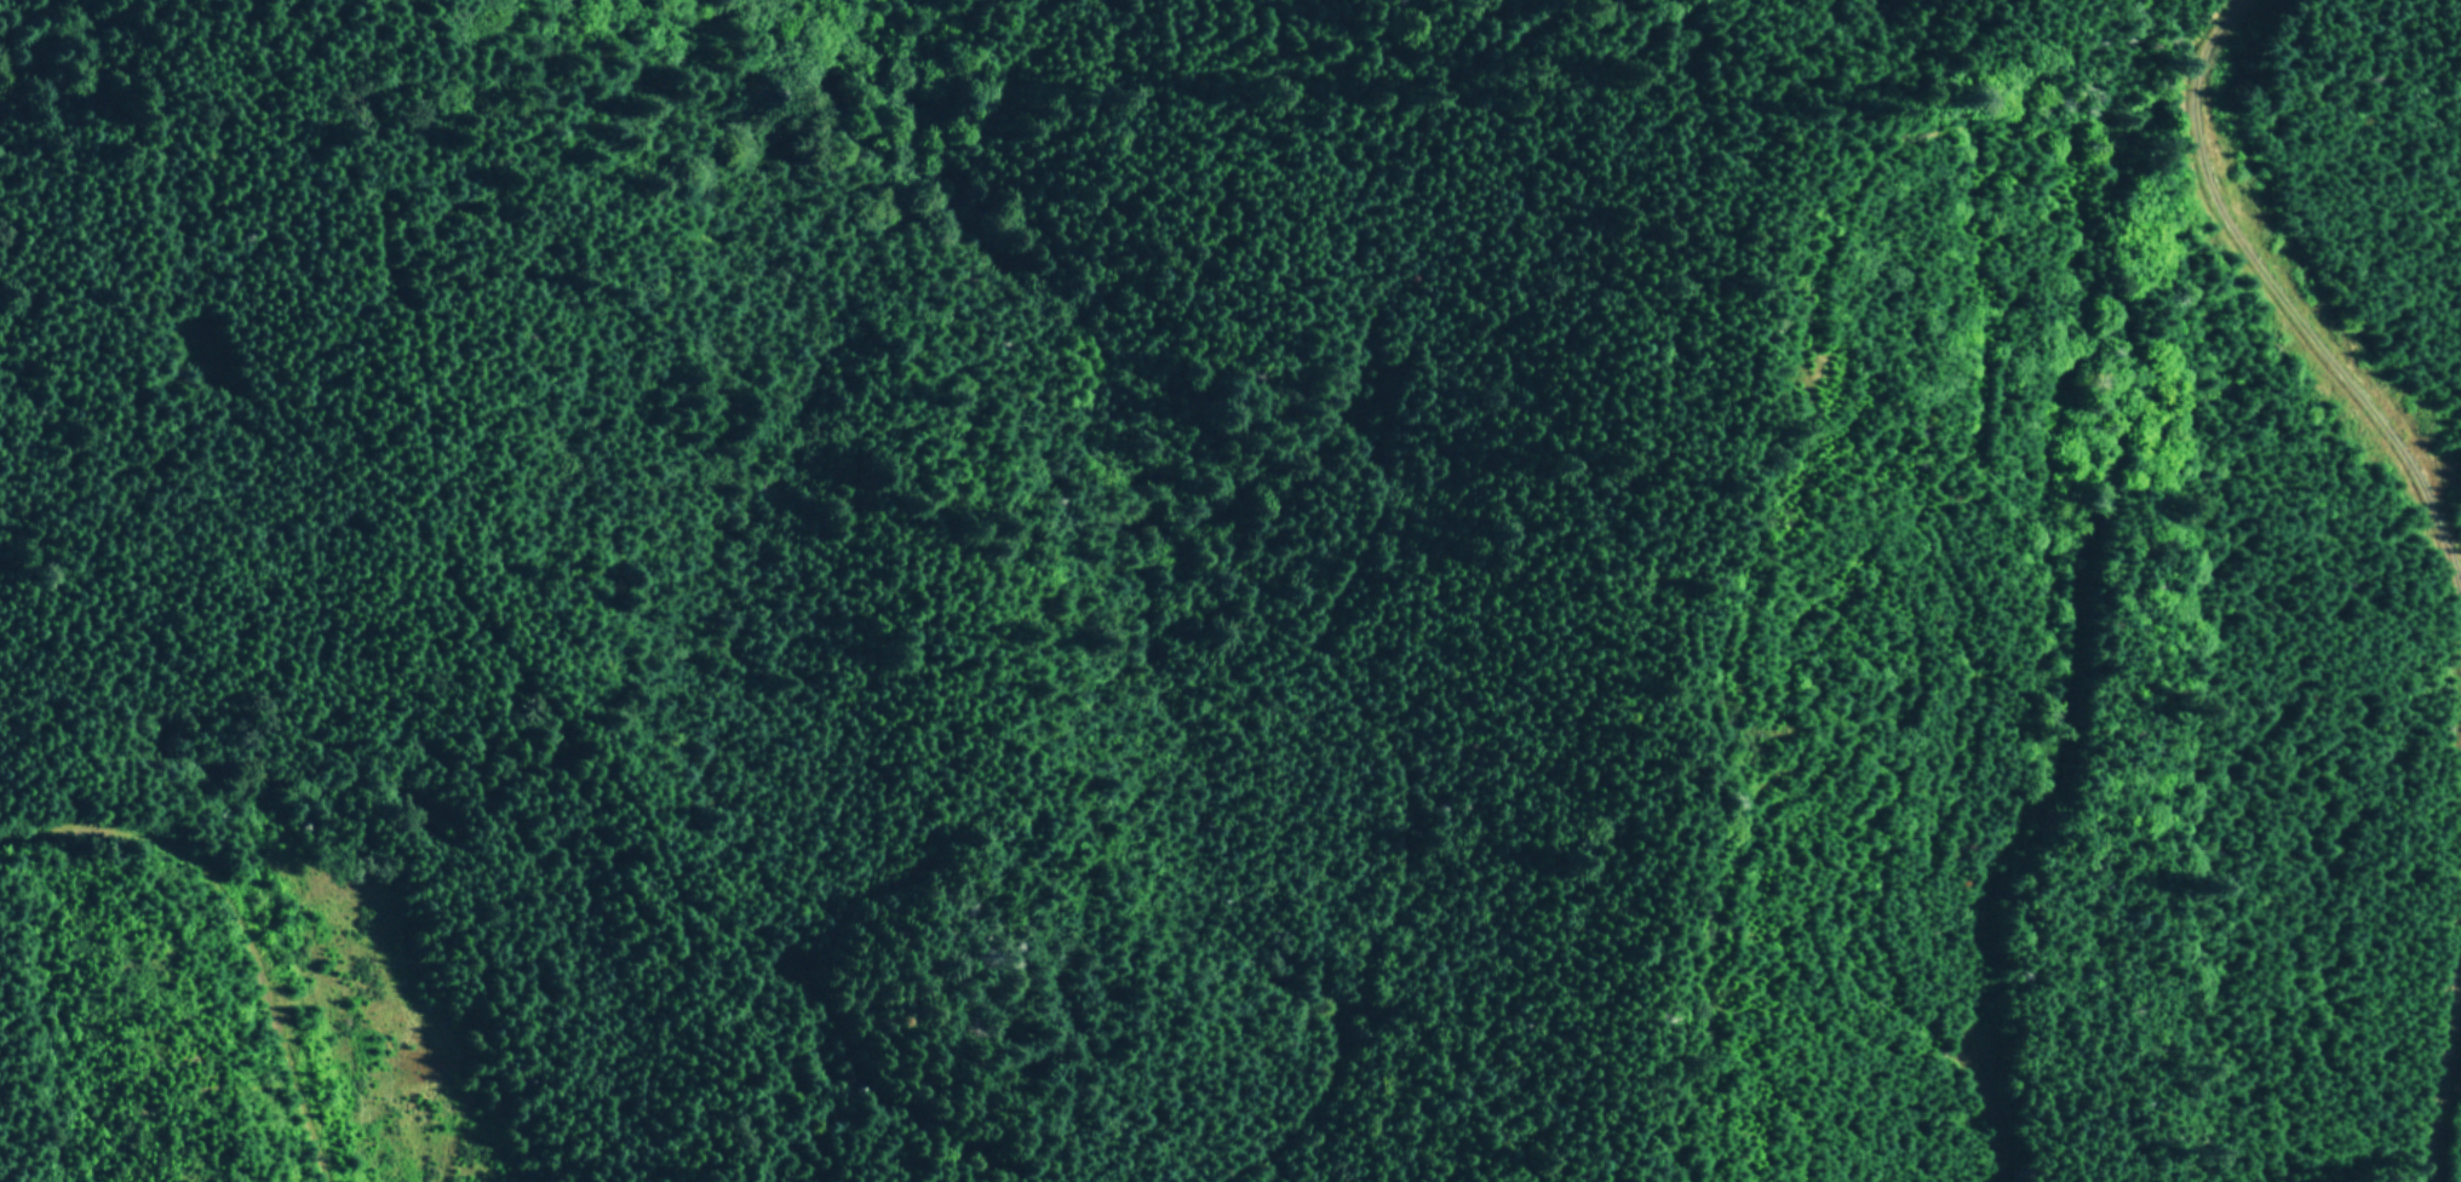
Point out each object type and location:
road: (237, 919)

